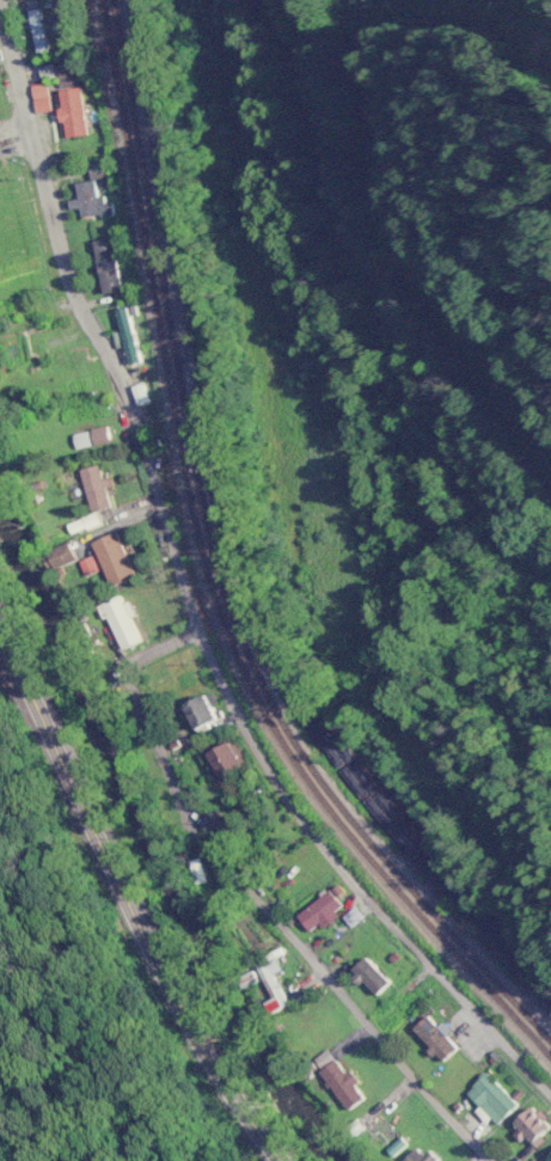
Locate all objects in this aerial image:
building: (39, 31)
building: (43, 98)
building: (74, 111)
building: (4, 172)
building: (109, 264)
building: (130, 335)
building: (142, 385)
building: (97, 488)
building: (86, 524)
building: (61, 557)
building: (115, 558)
railway: (220, 569)
railway: (212, 580)
road: (189, 595)
building: (123, 623)
building: (201, 711)
railway: (324, 737)
building: (225, 762)
railway: (399, 820)
river: (151, 836)
road: (129, 896)
building: (322, 911)
building: (371, 976)
building: (274, 983)
building: (312, 1038)
building: (434, 1039)
road: (385, 1040)
building: (339, 1080)
building: (494, 1098)
building: (533, 1125)
building: (385, 1137)
building: (421, 1156)
building: (549, 1157)

